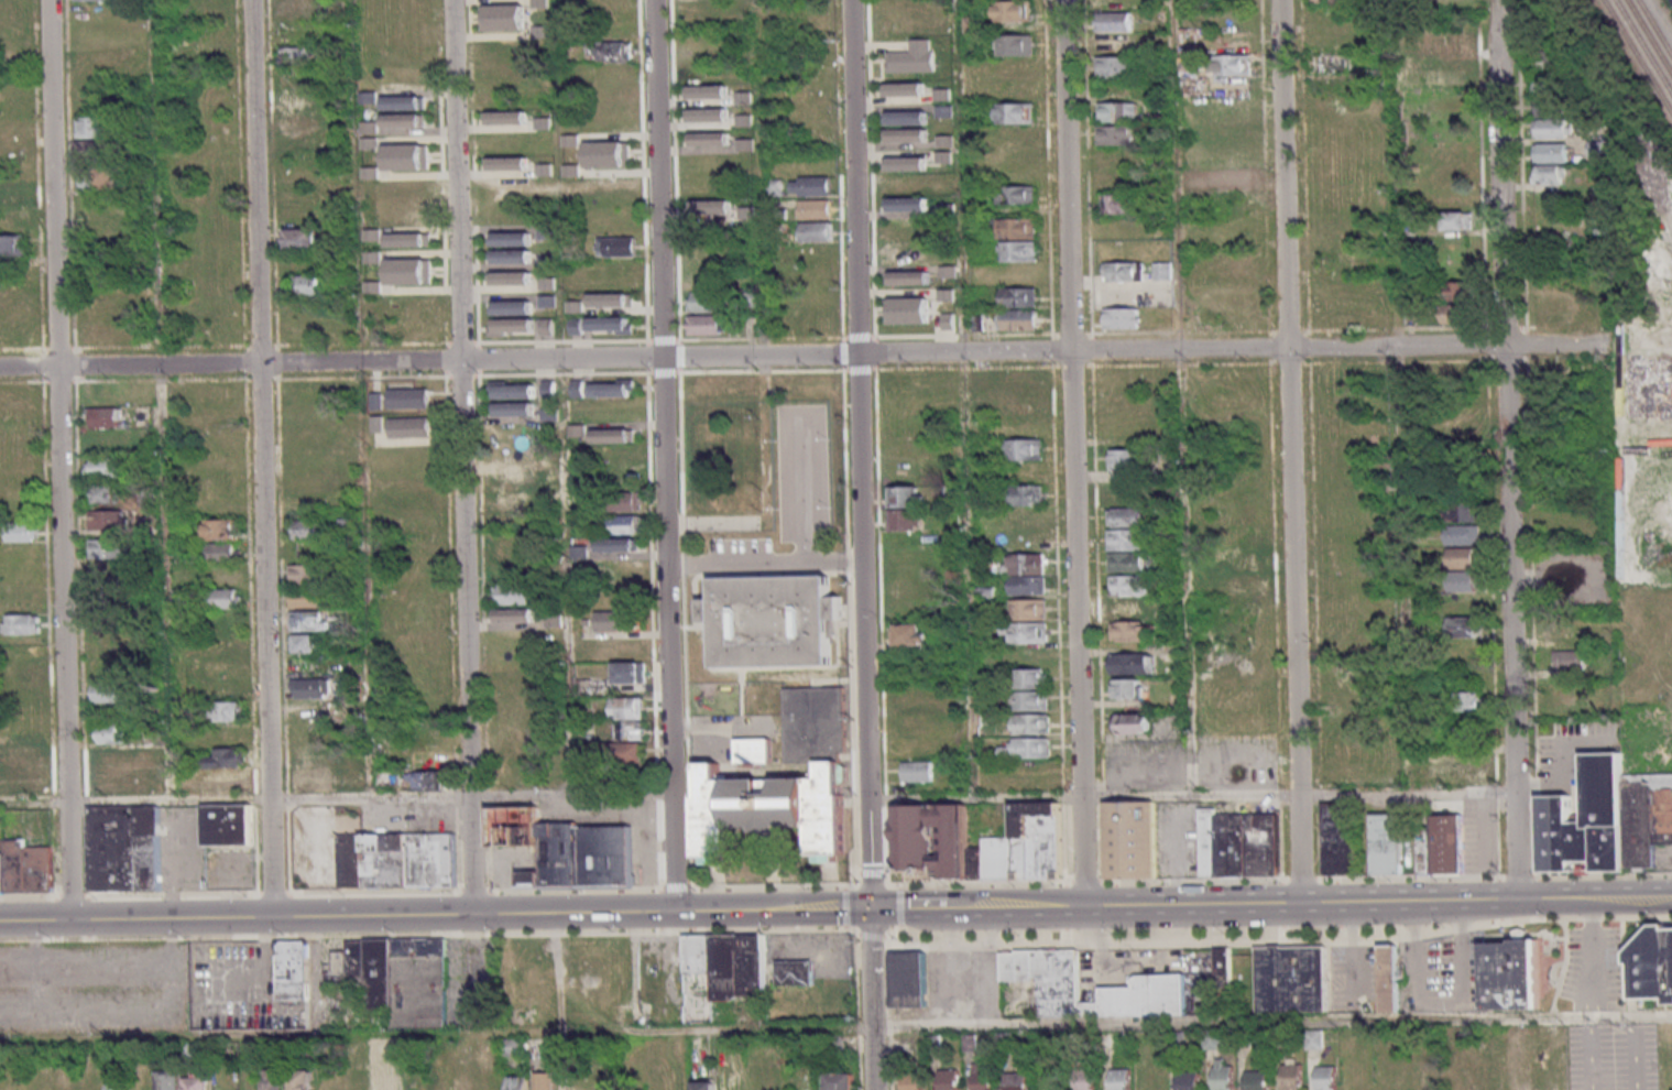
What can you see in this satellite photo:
building: (94, 0)
building: (1326, 0)
building: (540, 3)
building: (1114, 3)
building: (1013, 12)
building: (505, 17)
building: (1114, 22)
railway: (1654, 29)
railway: (1648, 39)
building: (1445, 41)
building: (1112, 44)
building: (1015, 45)
railway: (1643, 46)
building: (610, 51)
railway: (1638, 56)
building: (913, 57)
building: (293, 58)
building: (1549, 61)
building: (1331, 63)
building: (1232, 65)
building: (1115, 67)
building: (1548, 84)
building: (904, 88)
building: (1016, 90)
building: (719, 92)
building: (405, 103)
building: (1548, 106)
building: (1118, 112)
building: (1016, 113)
building: (709, 115)
building: (517, 119)
building: (745, 119)
building: (910, 119)
building: (407, 124)
building: (94, 128)
building: (1552, 129)
building: (1115, 135)
building: (913, 137)
building: (1013, 137)
building: (712, 140)
building: (745, 144)
building: (94, 150)
building: (1550, 152)
building: (606, 153)
building: (406, 156)
building: (1017, 161)
building: (905, 163)
building: (515, 164)
road: (1499, 172)
building: (1551, 177)
building: (99, 181)
building: (811, 186)
building: (1016, 196)
building: (1116, 204)
building: (915, 205)
building: (711, 206)
building: (95, 208)
building: (817, 209)
building: (1457, 221)
building: (1020, 229)
building: (905, 231)
building: (817, 232)
building: (407, 238)
building: (302, 240)
building: (515, 240)
building: (10, 247)
building: (621, 248)
building: (1020, 253)
building: (817, 255)
building: (903, 255)
building: (515, 259)
building: (408, 271)
building: (1124, 271)
building: (1163, 271)
building: (623, 272)
building: (512, 277)
building: (819, 279)
building: (914, 280)
building: (306, 285)
building: (1456, 293)
building: (946, 294)
building: (1019, 298)
building: (610, 299)
building: (816, 301)
building: (706, 302)
building: (575, 305)
building: (516, 309)
building: (907, 309)
building: (1457, 316)
building: (948, 320)
building: (1122, 321)
building: (1020, 323)
building: (816, 325)
building: (578, 326)
building: (611, 326)
building: (706, 326)
building: (517, 327)
road: (1559, 344)
road: (752, 356)
building: (1021, 382)
building: (604, 389)
building: (303, 391)
building: (514, 391)
building: (409, 397)
building: (514, 406)
building: (107, 421)
building: (411, 426)
building: (609, 436)
building: (134, 439)
road: (1288, 450)
road: (1073, 451)
road: (860, 454)
building: (1027, 454)
road: (662, 456)
road: (460, 457)
road: (260, 459)
road: (58, 460)
building: (1124, 461)
building: (107, 469)
building: (1126, 495)
building: (107, 497)
building: (1028, 498)
building: (906, 501)
building: (625, 504)
building: (1460, 513)
building: (1027, 517)
building: (1125, 520)
building: (348, 523)
building: (906, 523)
building: (108, 524)
building: (624, 526)
building: (308, 531)
building: (221, 532)
building: (21, 535)
building: (1463, 537)
building: (1126, 543)
building: (619, 545)
building: (109, 553)
building: (222, 556)
building: (307, 556)
building: (1462, 560)
road: (763, 563)
building: (1126, 565)
building: (1028, 567)
road: (1508, 567)
building: (226, 575)
building: (307, 578)
parking lot: (1571, 581)
building: (1461, 582)
building: (1030, 588)
building: (1127, 588)
building: (513, 596)
building: (309, 601)
building: (223, 602)
building: (1463, 607)
building: (1123, 610)
building: (1029, 611)
building: (516, 618)
building: (223, 621)
building: (616, 623)
building: (306, 624)
building: (772, 624)
building: (24, 629)
building: (1463, 630)
building: (1569, 631)
building: (1128, 634)
building: (1031, 635)
building: (908, 639)
building: (306, 646)
building: (1571, 663)
building: (1129, 665)
building: (22, 667)
building: (627, 676)
building: (1028, 683)
building: (310, 690)
building: (1125, 691)
building: (1571, 695)
building: (110, 696)
building: (1462, 702)
building: (1029, 705)
building: (625, 710)
building: (228, 716)
building: (1130, 726)
building: (1031, 727)
building: (625, 731)
building: (113, 738)
building: (1465, 738)
building: (1027, 751)
building: (754, 754)
building: (622, 755)
parking lot: (1570, 755)
building: (222, 761)
parking lot: (1195, 763)
building: (1455, 771)
building: (919, 774)
building: (389, 777)
building: (358, 778)
building: (227, 780)
building: (314, 780)
building: (425, 783)
building: (785, 786)
road: (1188, 794)
road: (569, 797)
road: (973, 799)
building: (1648, 822)
building: (1587, 824)
building: (229, 828)
building: (1031, 840)
building: (1338, 840)
building: (928, 842)
building: (1129, 842)
road: (1513, 844)
building: (564, 847)
building: (1238, 847)
building: (1441, 847)
building: (1386, 848)
building: (124, 851)
road: (648, 853)
parking lot: (1666, 859)
building: (988, 860)
building: (398, 862)
building: (24, 870)
road: (844, 884)
road: (1630, 897)
road: (1551, 898)
road: (1232, 903)
road: (909, 907)
road: (824, 908)
traffic signals: (868, 908)
road: (676, 911)
road: (285, 917)
road: (837, 930)
road: (788, 951)
road: (1592, 957)
building: (1649, 961)
building: (725, 963)
building: (1221, 966)
building: (292, 970)
building: (794, 972)
building: (1505, 972)
building: (397, 977)
building: (907, 978)
building: (1289, 978)
building: (1389, 978)
building: (1158, 983)
parking lot: (91, 987)
building: (209, 987)
road: (872, 999)
road: (1604, 1021)
road: (835, 1026)
building: (1211, 1039)
building: (512, 1046)
building: (1222, 1073)
building: (1491, 1075)
building: (1523, 1075)
building: (385, 1076)
building: (1154, 1076)
building: (1291, 1076)
building: (981, 1077)
building: (1324, 1077)
building: (1085, 1078)
building: (1394, 1078)
building: (275, 1079)
building: (358, 1079)
building: (948, 1079)
building: (1119, 1079)
building: (1431, 1079)
building: (170, 1080)
building: (302, 1080)
building: (558, 1080)
building: (914, 1080)
building: (1016, 1080)
building: (1187, 1080)
building: (1255, 1080)
building: (1464, 1080)
building: (197, 1081)
building: (491, 1081)
building: (837, 1081)
building: (117, 1082)
building: (518, 1082)
building: (611, 1083)
building: (688, 1083)
building: (248, 1084)

